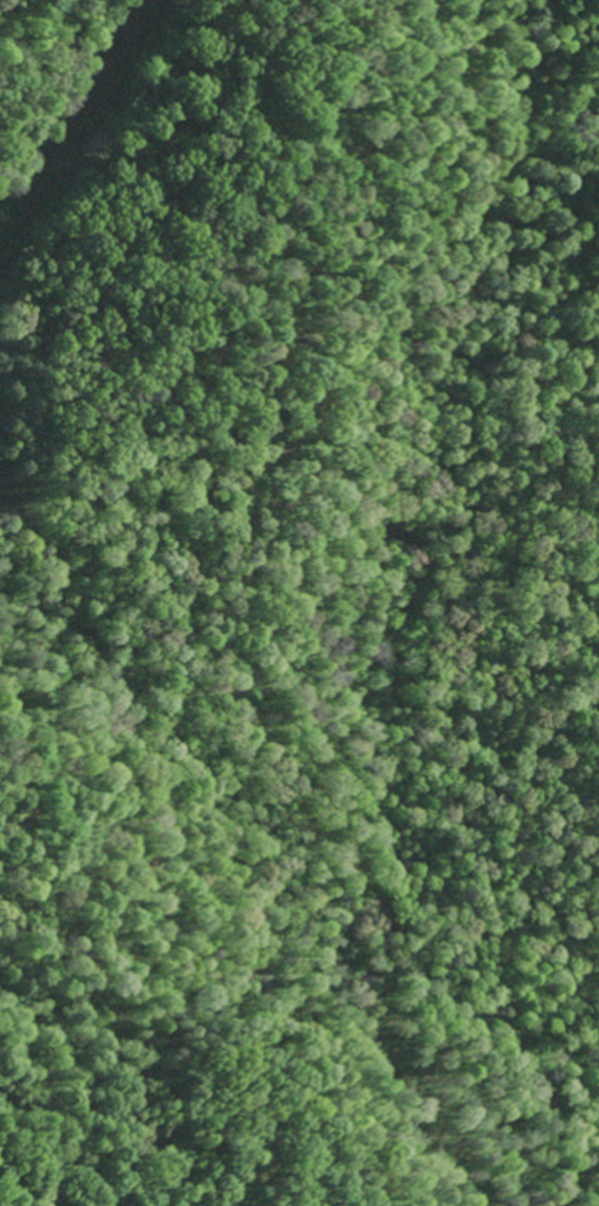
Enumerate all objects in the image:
road: (1, 17)

